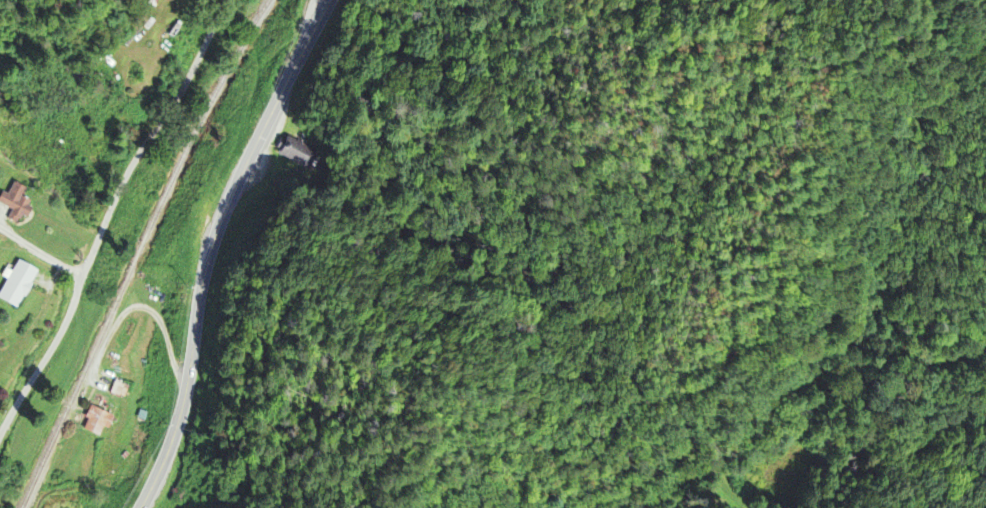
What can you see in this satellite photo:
building: (294, 151)
river: (31, 200)
building: (16, 203)
road: (106, 214)
road: (212, 246)
road: (40, 251)
railway: (138, 251)
river: (43, 254)
building: (18, 285)
river: (27, 324)
building: (98, 422)

